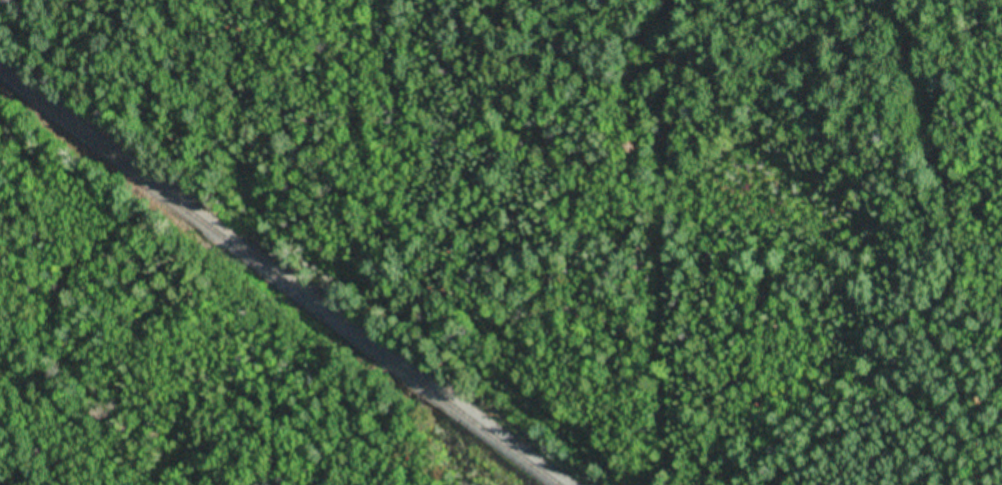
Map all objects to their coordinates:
railway: (279, 278)

